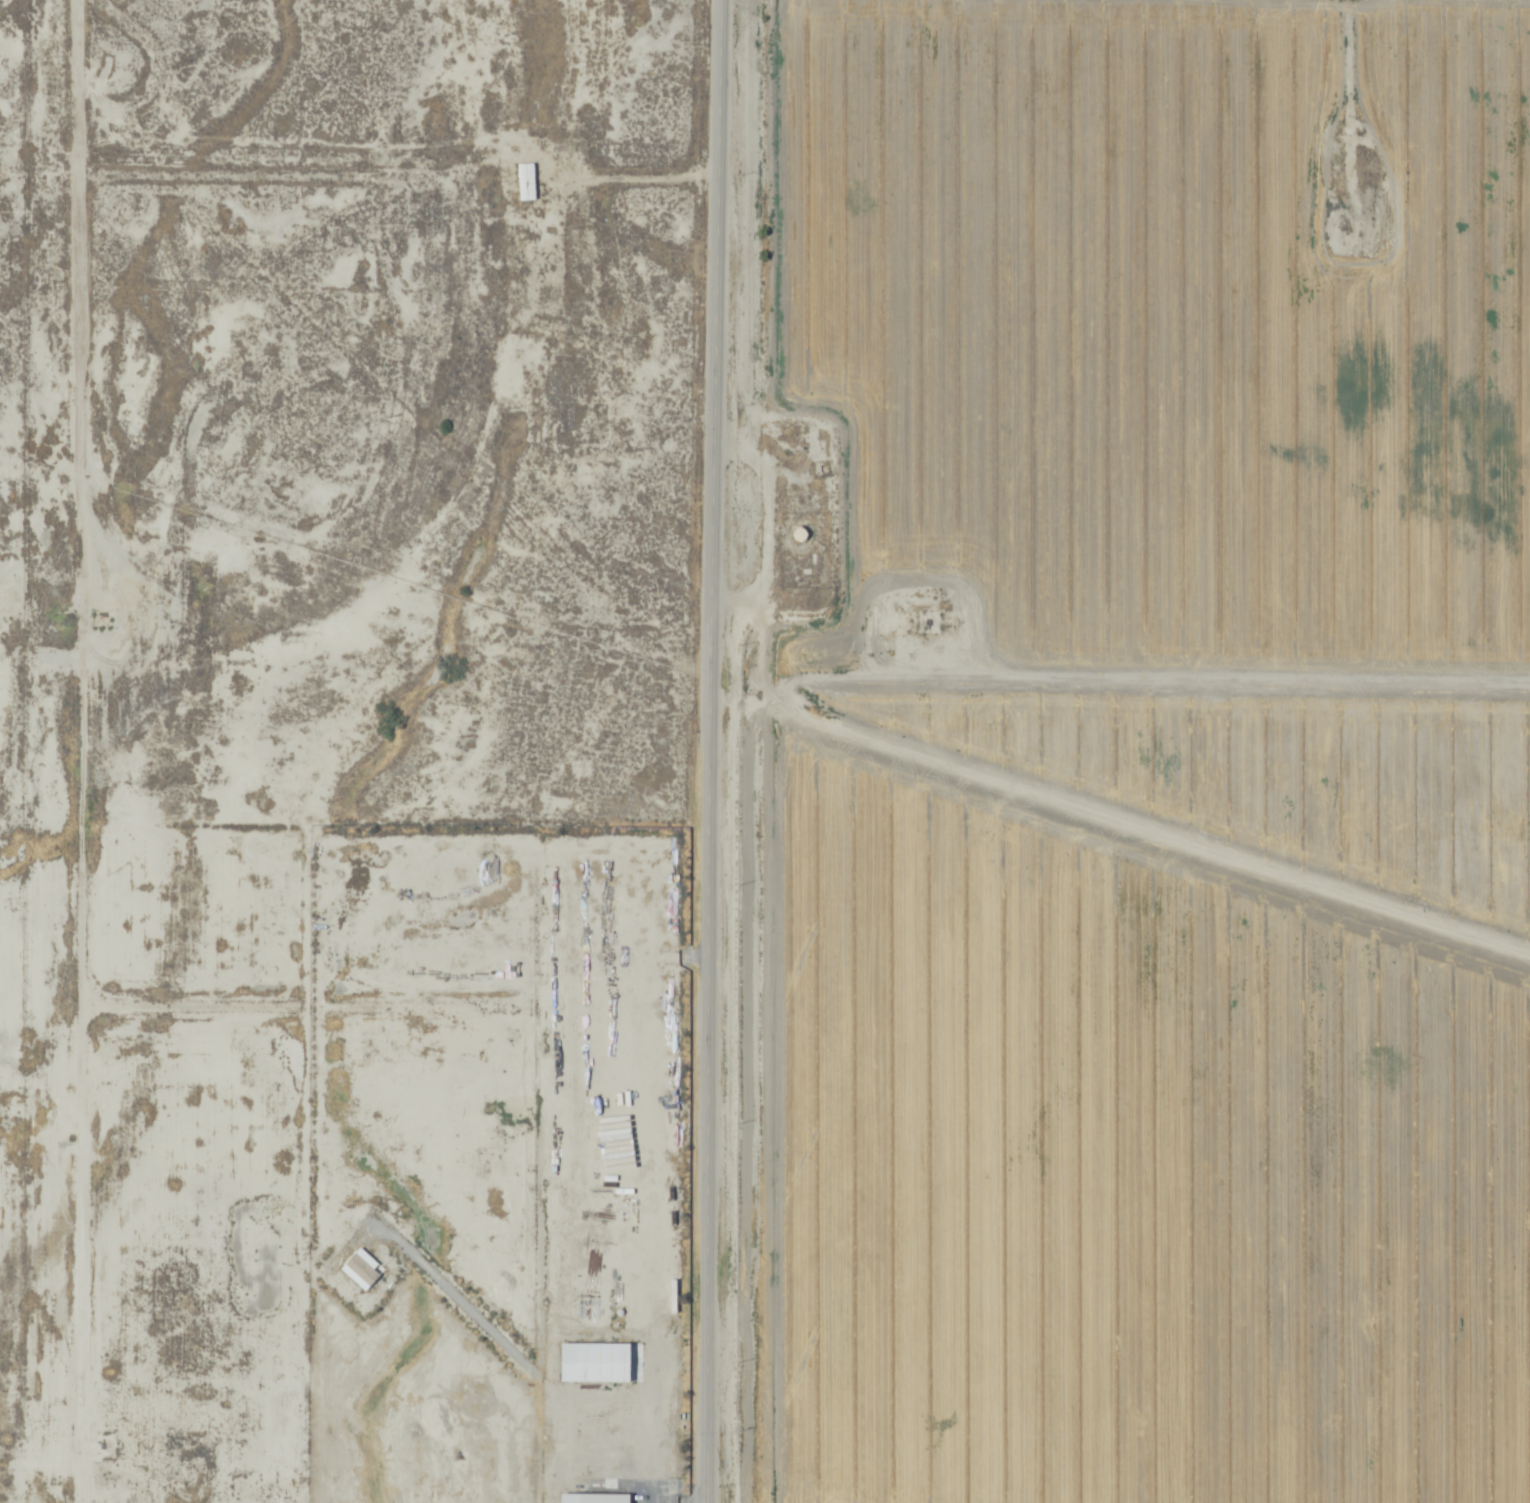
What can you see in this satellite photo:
road: (360, 180)
road: (1122, 689)
crop: (1126, 750)
road: (79, 751)
road: (715, 751)
road: (400, 1012)
building: (604, 1498)

